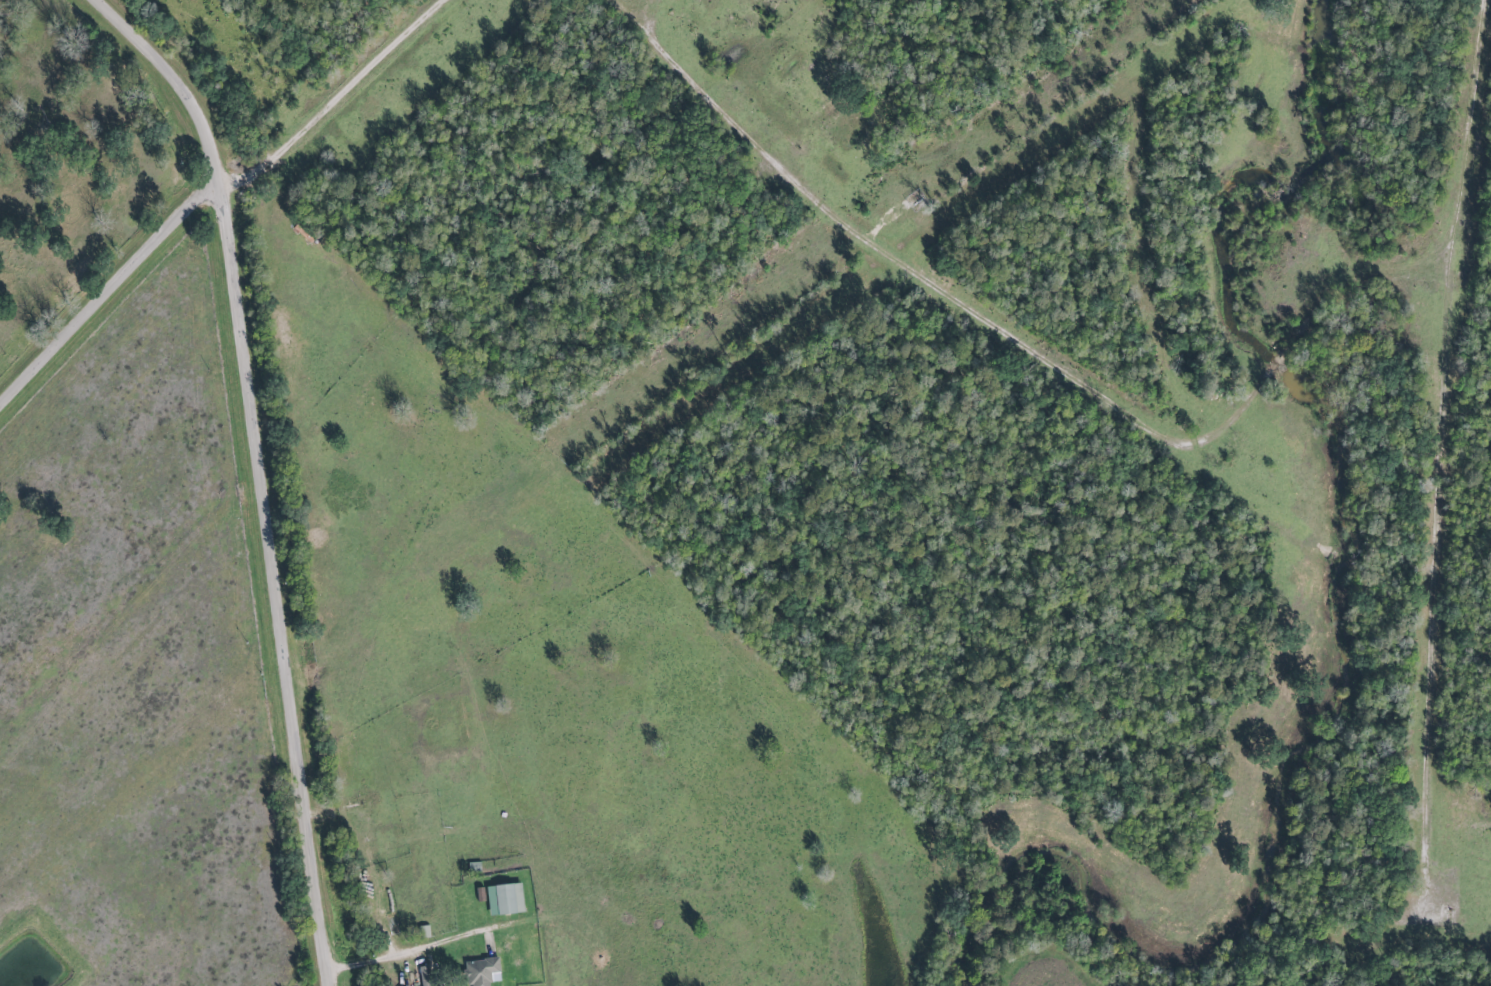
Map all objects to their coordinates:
road: (178, 80)
road: (339, 97)
road: (107, 290)
road: (1447, 414)
road: (275, 585)
river: (1356, 649)
building: (481, 894)
building: (506, 899)
building: (484, 971)
building: (426, 975)

